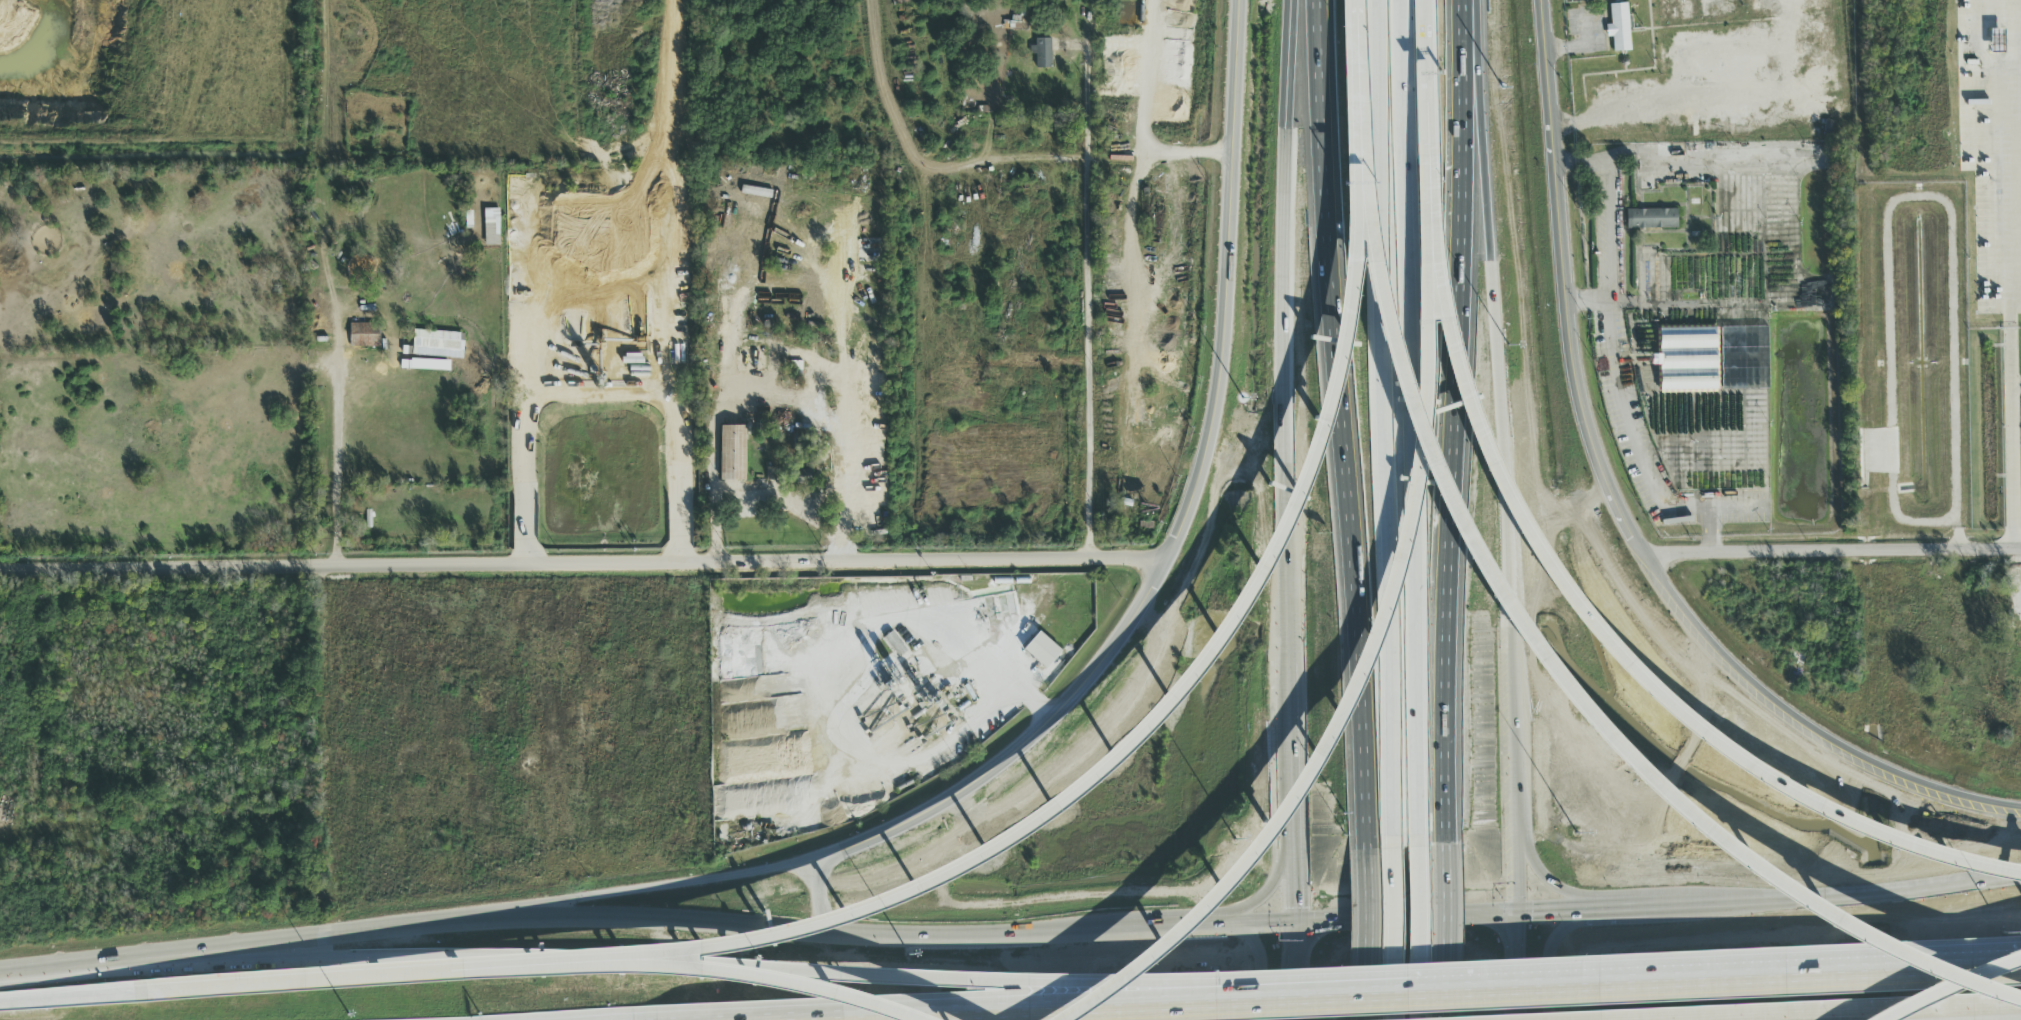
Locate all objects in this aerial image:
building: (1675, 11)
building: (1619, 28)
building: (1996, 41)
building: (1042, 53)
road: (670, 59)
road: (1427, 78)
road: (1714, 97)
road: (1086, 99)
road: (1360, 102)
road: (1234, 147)
road: (1160, 159)
road: (918, 160)
road: (1429, 175)
road: (1136, 181)
building: (1651, 219)
building: (675, 264)
road: (2010, 273)
road: (1567, 288)
road: (1286, 294)
road: (1587, 303)
building: (365, 335)
building: (439, 336)
road: (1088, 358)
building: (1714, 358)
road: (1612, 359)
road: (1498, 362)
building: (428, 367)
road: (2015, 385)
road: (679, 415)
road: (1444, 419)
road: (1341, 420)
road: (1388, 420)
road: (1410, 421)
road: (337, 438)
road: (713, 451)
building: (734, 454)
road: (528, 476)
road: (790, 503)
road: (1834, 548)
road: (583, 561)
road: (1290, 624)
road: (1610, 634)
road: (1121, 635)
building: (1038, 648)
road: (1371, 660)
road: (1584, 689)
road: (1805, 731)
road: (1152, 732)
road: (1292, 753)
road: (1517, 770)
road: (1521, 863)
road: (1540, 872)
road: (1294, 883)
road: (683, 885)
road: (818, 888)
road: (1267, 892)
road: (1840, 898)
road: (1624, 907)
road: (1556, 910)
traffic signals: (1521, 912)
road: (556, 915)
road: (1408, 916)
traffic signals: (1296, 920)
road: (1260, 921)
road: (1166, 925)
road: (1084, 926)
road: (1446, 929)
road: (1365, 930)
road: (1395, 931)
road: (1420, 931)
road: (1296, 939)
road: (1552, 956)
road: (361, 960)
road: (1261, 962)
road: (550, 964)
road: (1521, 966)
road: (28, 967)
road: (1797, 974)
road: (1120, 984)
road: (1952, 986)
road: (1297, 989)
road: (72, 997)
road: (1218, 1002)
road: (1815, 1010)

